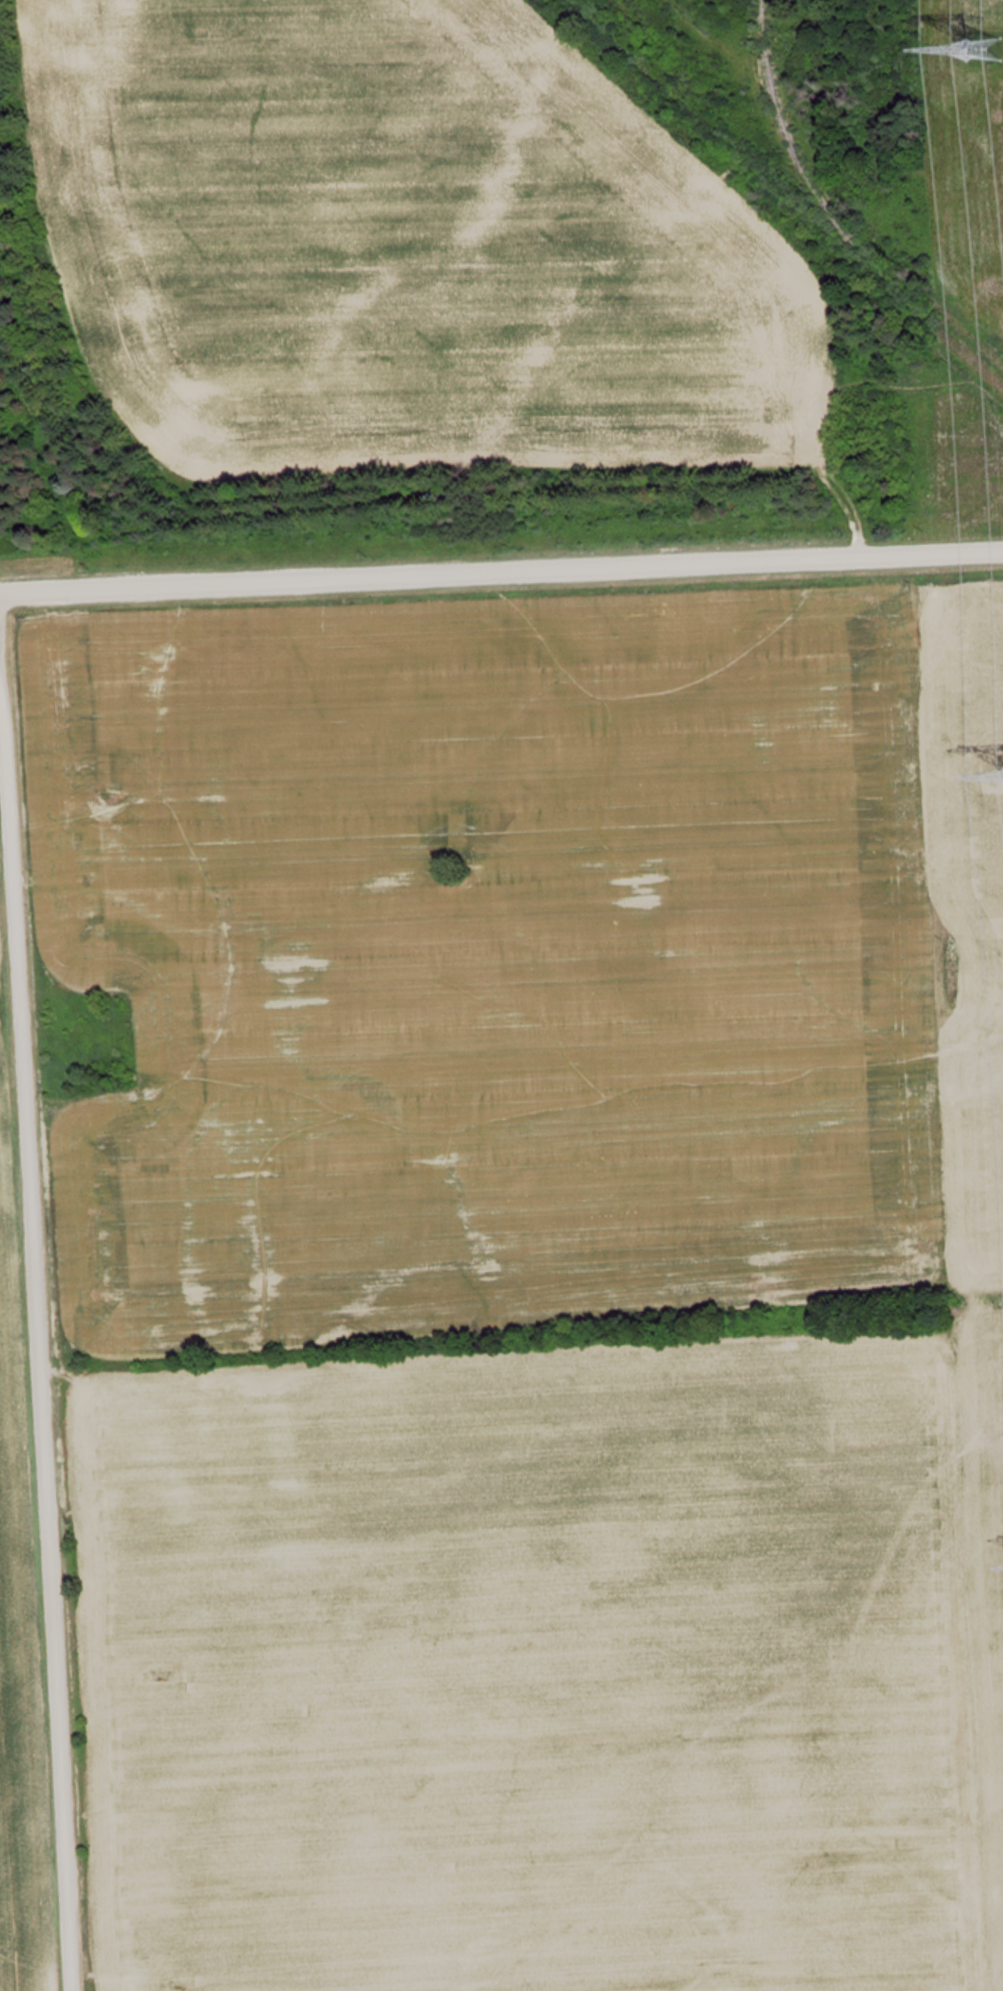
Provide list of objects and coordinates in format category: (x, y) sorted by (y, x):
power tower: (985, 48)
railway: (776, 120)
road: (501, 571)
road: (34, 1358)

